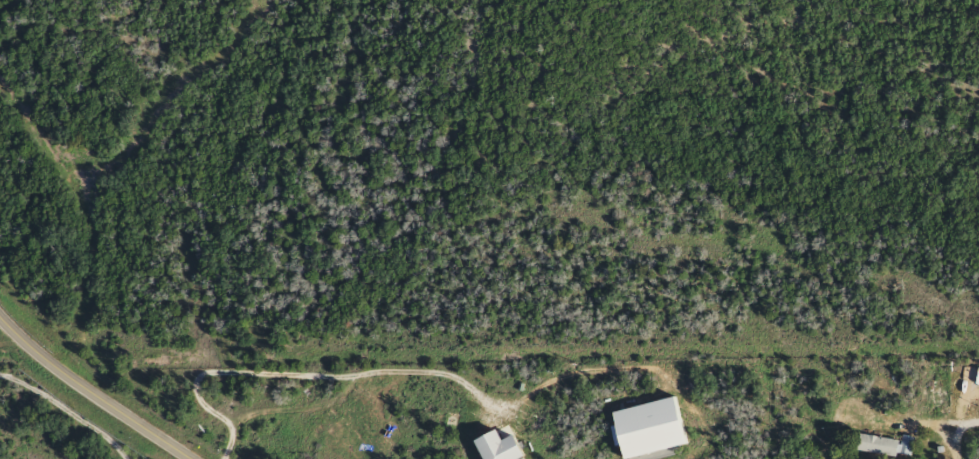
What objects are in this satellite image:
road: (302, 375)
road: (88, 394)
road: (46, 399)
road: (907, 420)
road: (40, 432)
road: (826, 437)
road: (950, 440)
building: (877, 446)
building: (906, 446)

